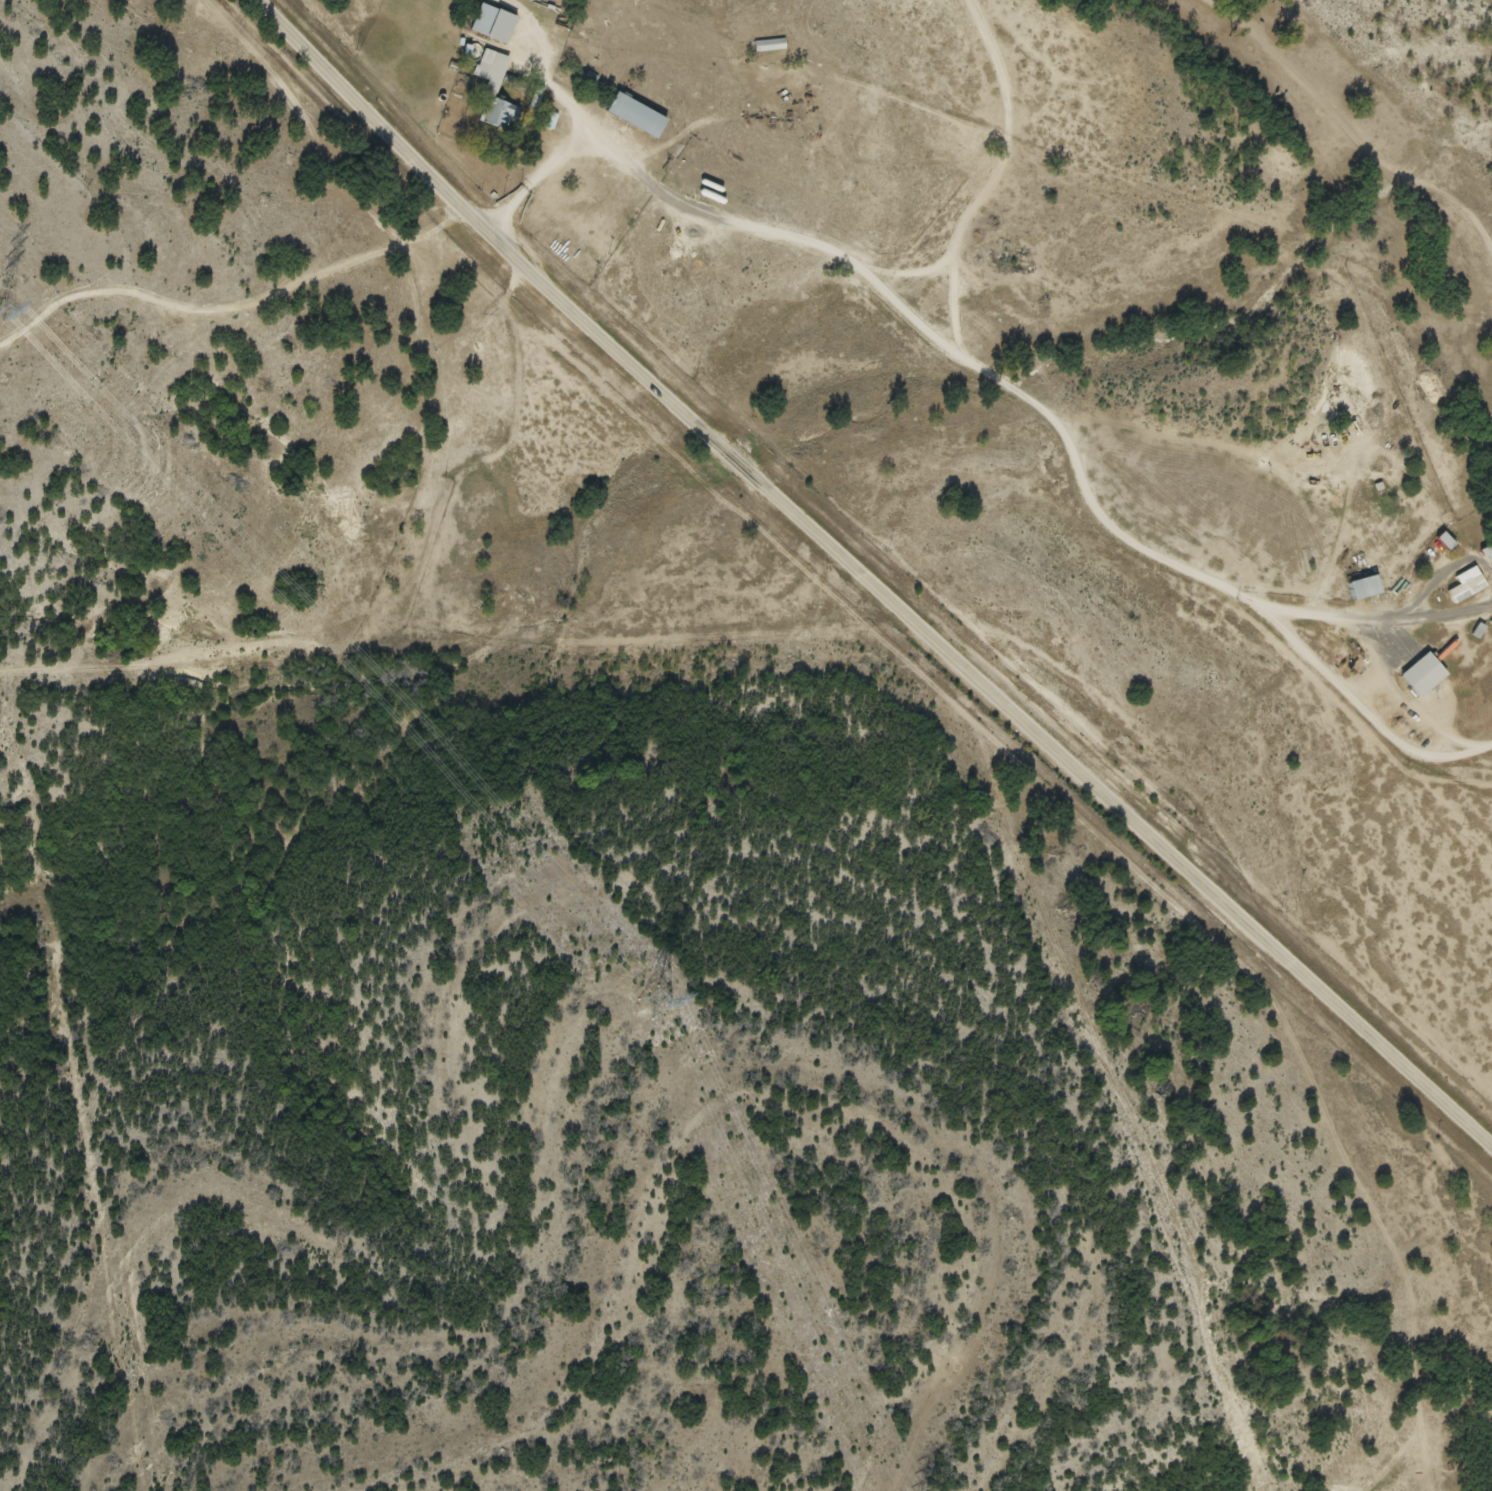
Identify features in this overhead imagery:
building: (493, 23)
building: (769, 44)
building: (495, 88)
building: (635, 115)
road: (582, 148)
road: (944, 349)
building: (1487, 554)
road: (870, 577)
building: (1364, 587)
building: (1467, 588)
road: (1374, 615)
building: (1491, 622)
building: (1423, 674)
road: (1362, 706)
power tower: (639, 994)

